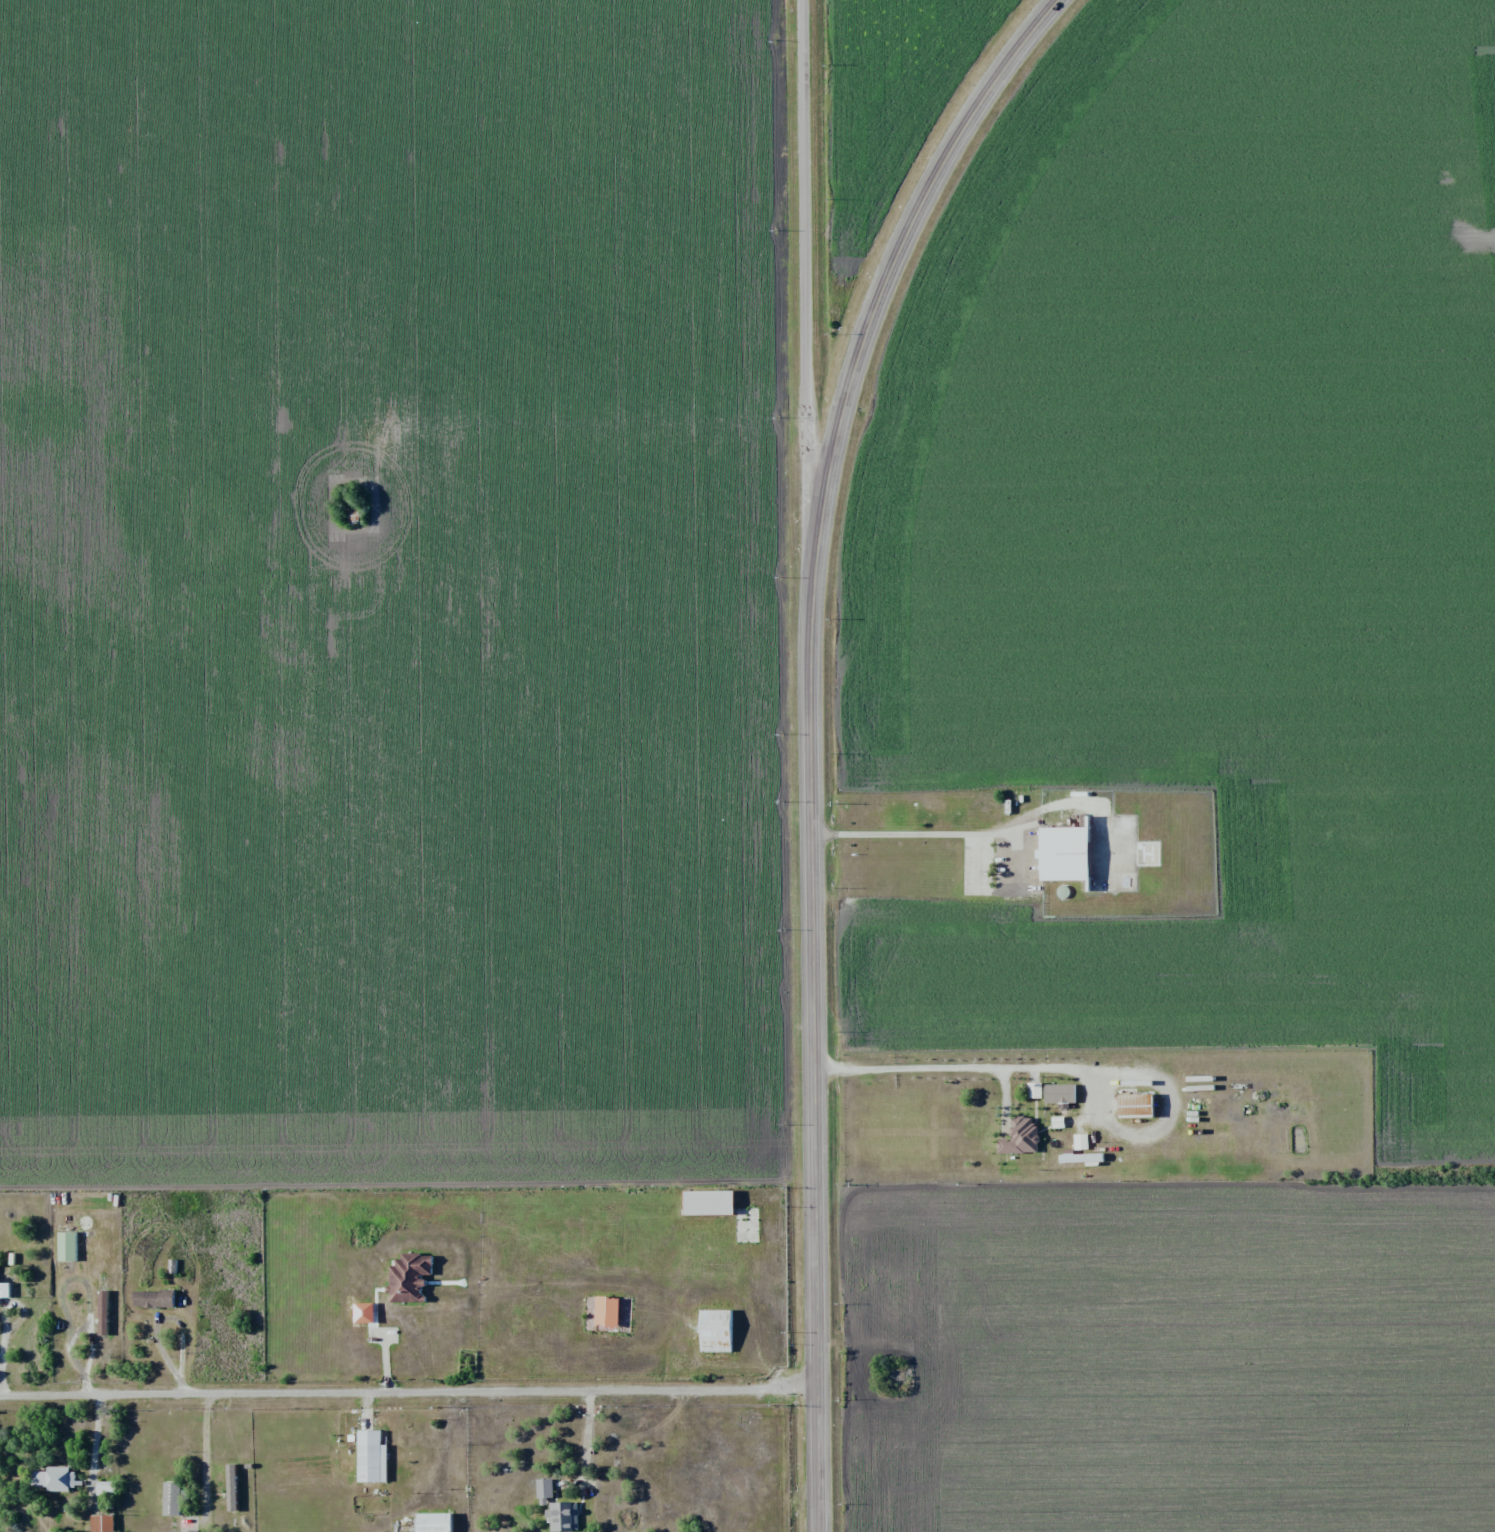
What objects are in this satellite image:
road: (804, 325)
road: (577, 436)
road: (815, 736)
building: (1063, 852)
road: (946, 1067)
building: (1033, 1089)
building: (1135, 1103)
building: (979, 1109)
building: (1057, 1121)
building: (1081, 1157)
building: (709, 1202)
building: (66, 1245)
building: (408, 1276)
building: (4, 1290)
building: (152, 1299)
building: (606, 1311)
building: (102, 1312)
building: (716, 1330)
road: (407, 1389)
road: (587, 1434)
building: (653, 1436)
building: (371, 1456)
building: (52, 1478)
building: (231, 1486)
building: (107, 1487)
building: (545, 1488)
building: (171, 1499)
building: (103, 1522)
building: (433, 1522)
building: (189, 1530)

